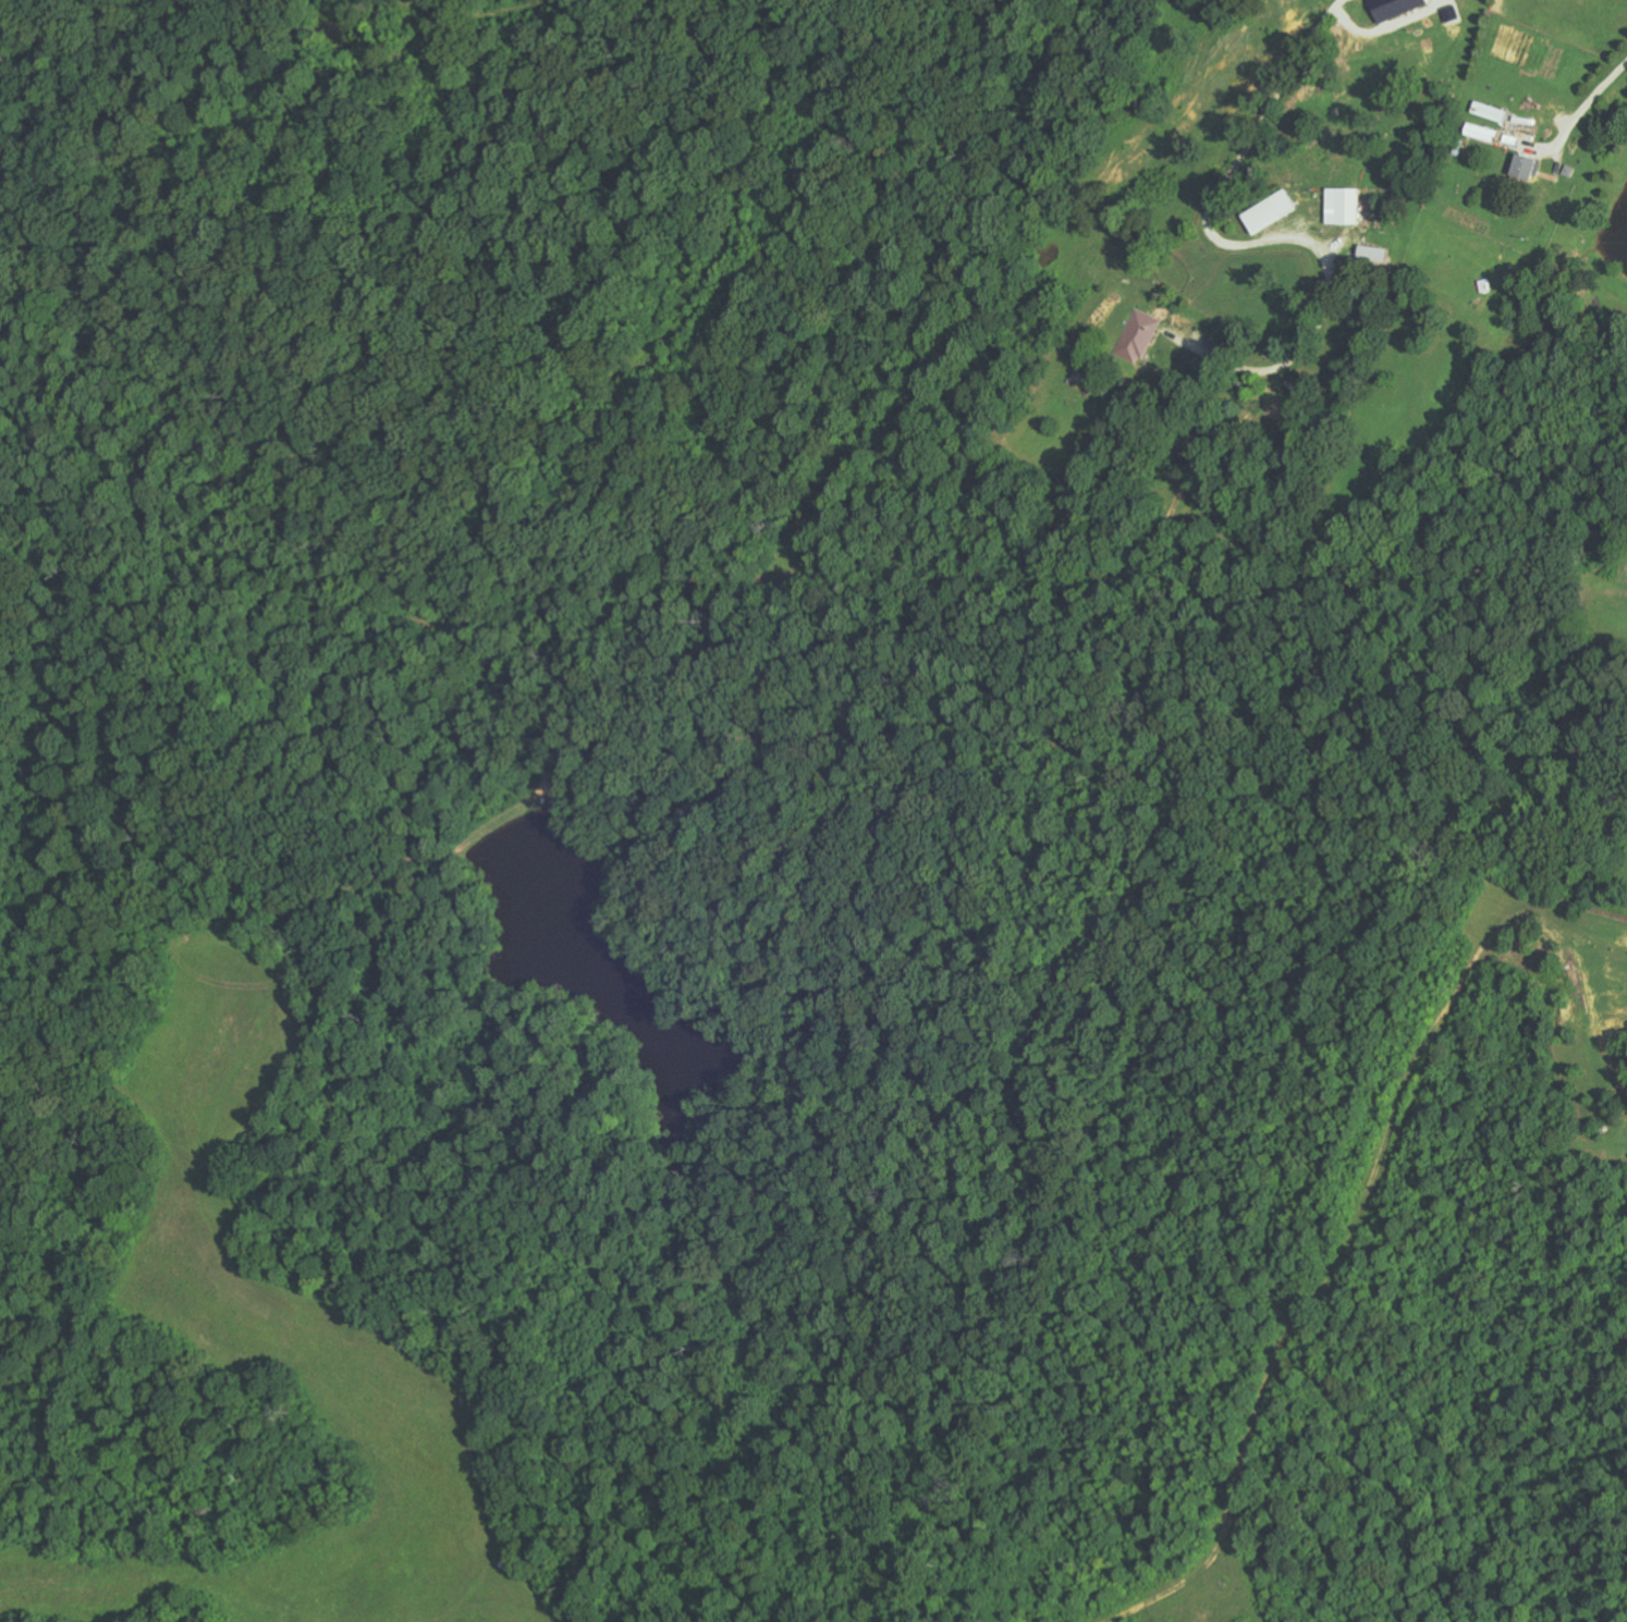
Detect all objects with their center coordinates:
building: (1392, 8)
road: (1259, 114)
road: (664, 119)
building: (1480, 132)
building: (1525, 168)
building: (1339, 206)
building: (1267, 211)
building: (1135, 339)
road: (270, 1256)

